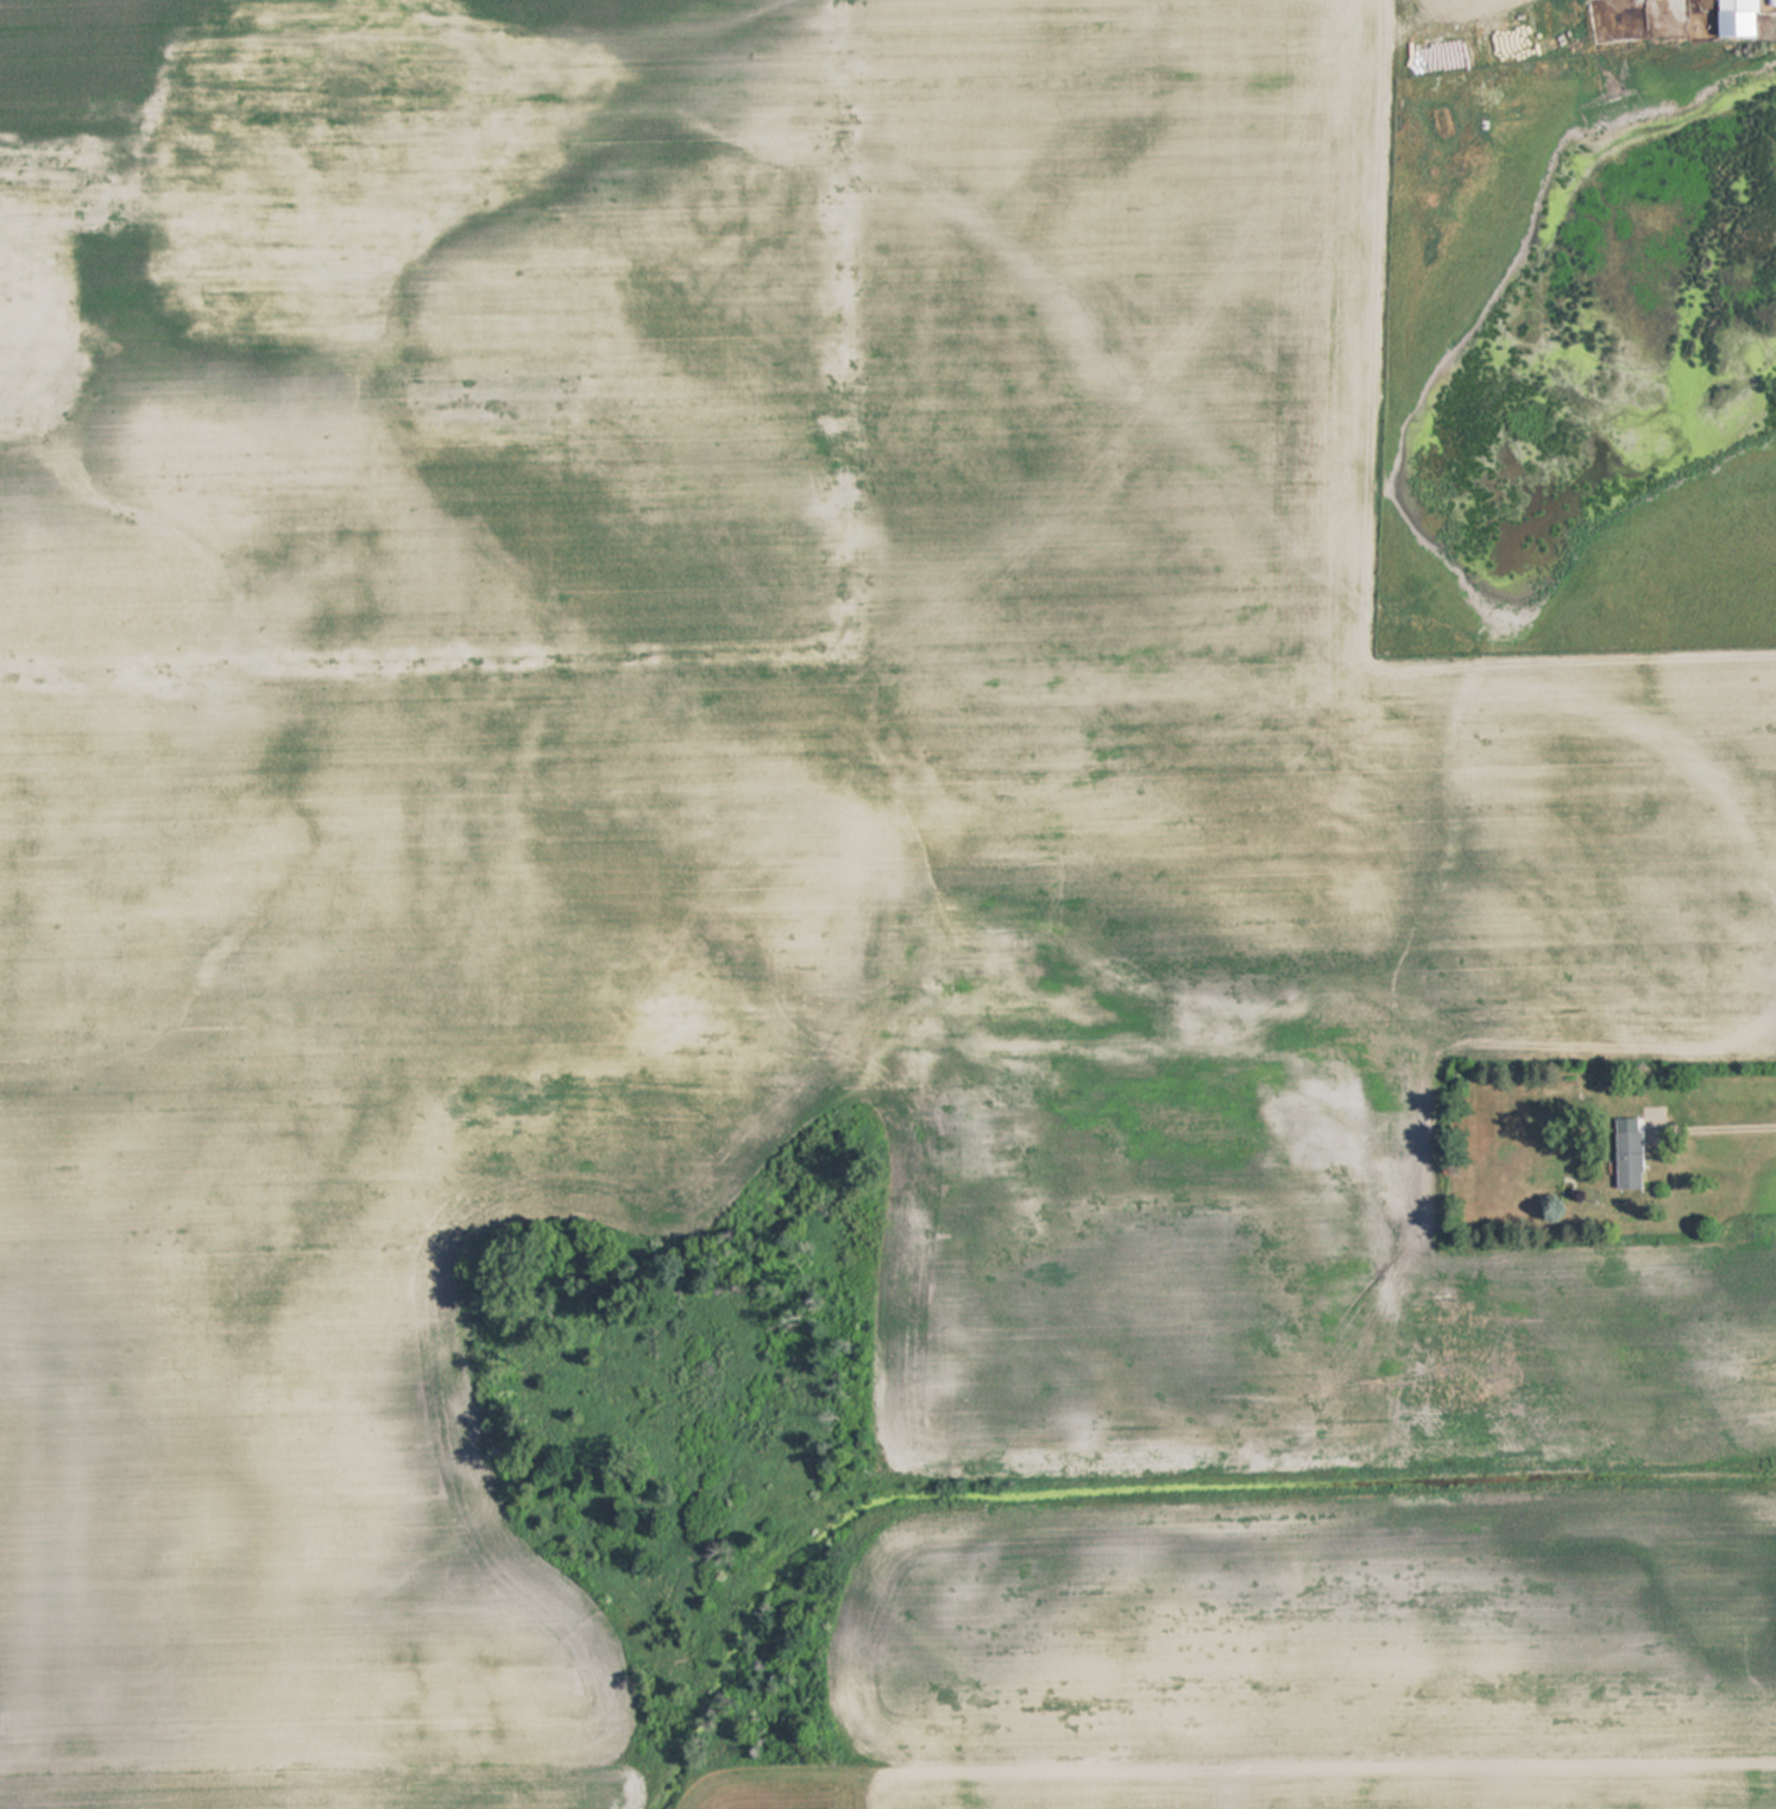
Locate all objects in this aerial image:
building: (1745, 5)
building: (1626, 1160)

